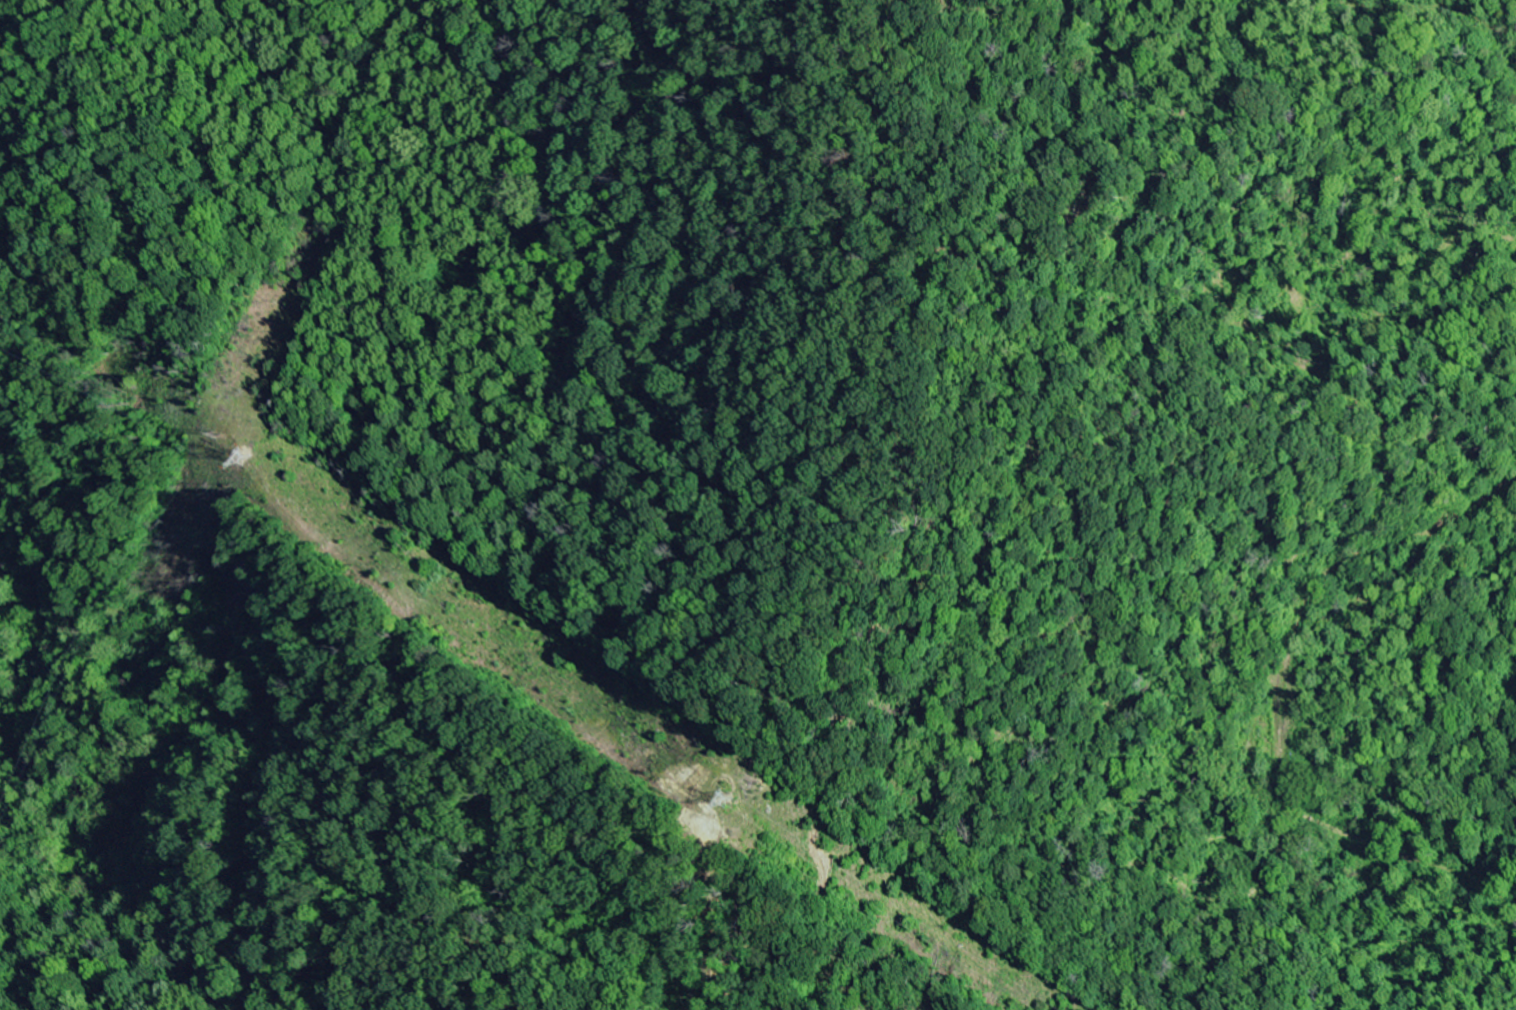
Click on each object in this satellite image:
power tower: (218, 431)
power tower: (246, 458)
power tower: (748, 802)

